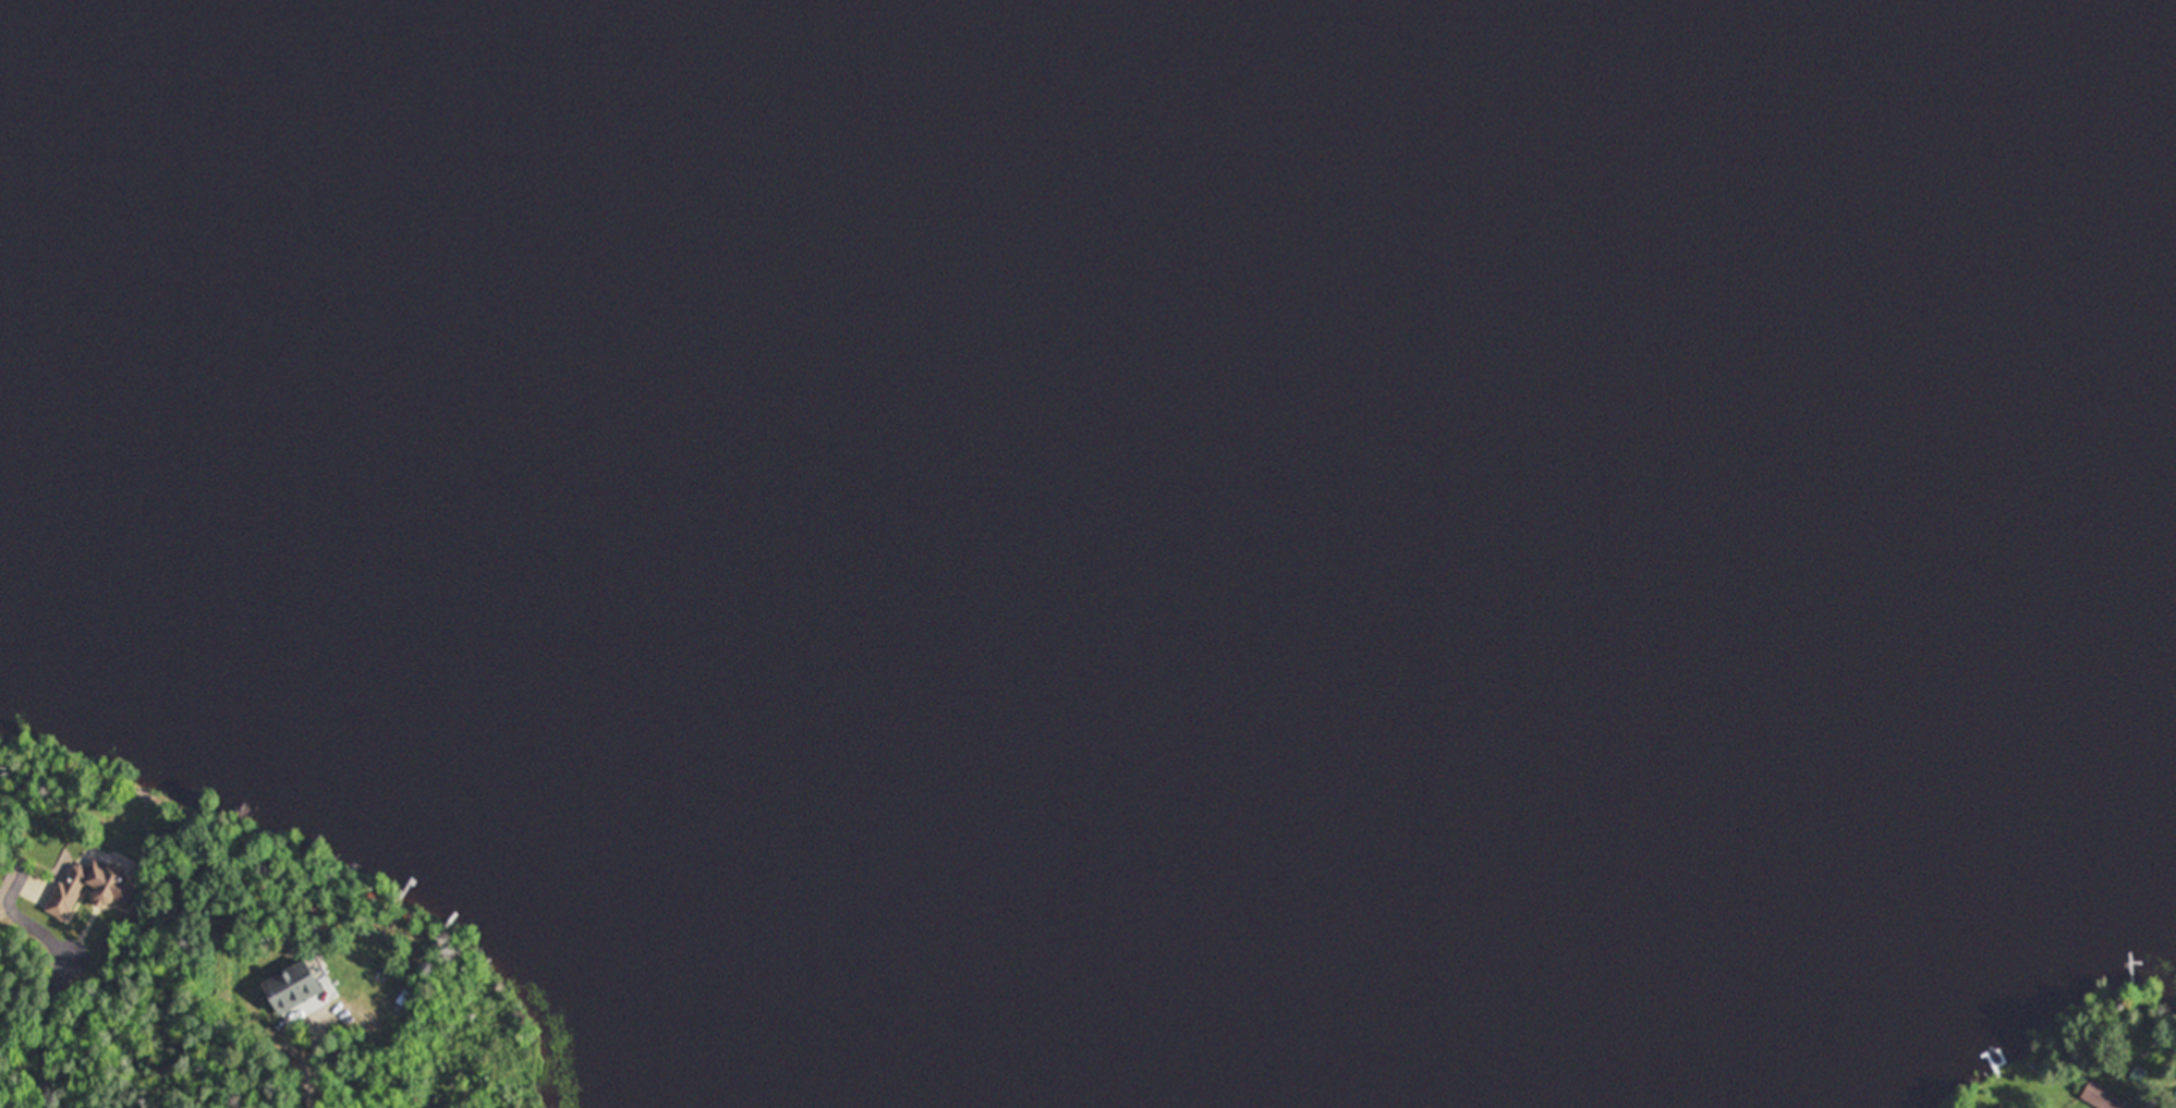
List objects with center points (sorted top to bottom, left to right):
river: (1248, 592)
building: (92, 888)
building: (293, 985)
building: (2101, 1096)

